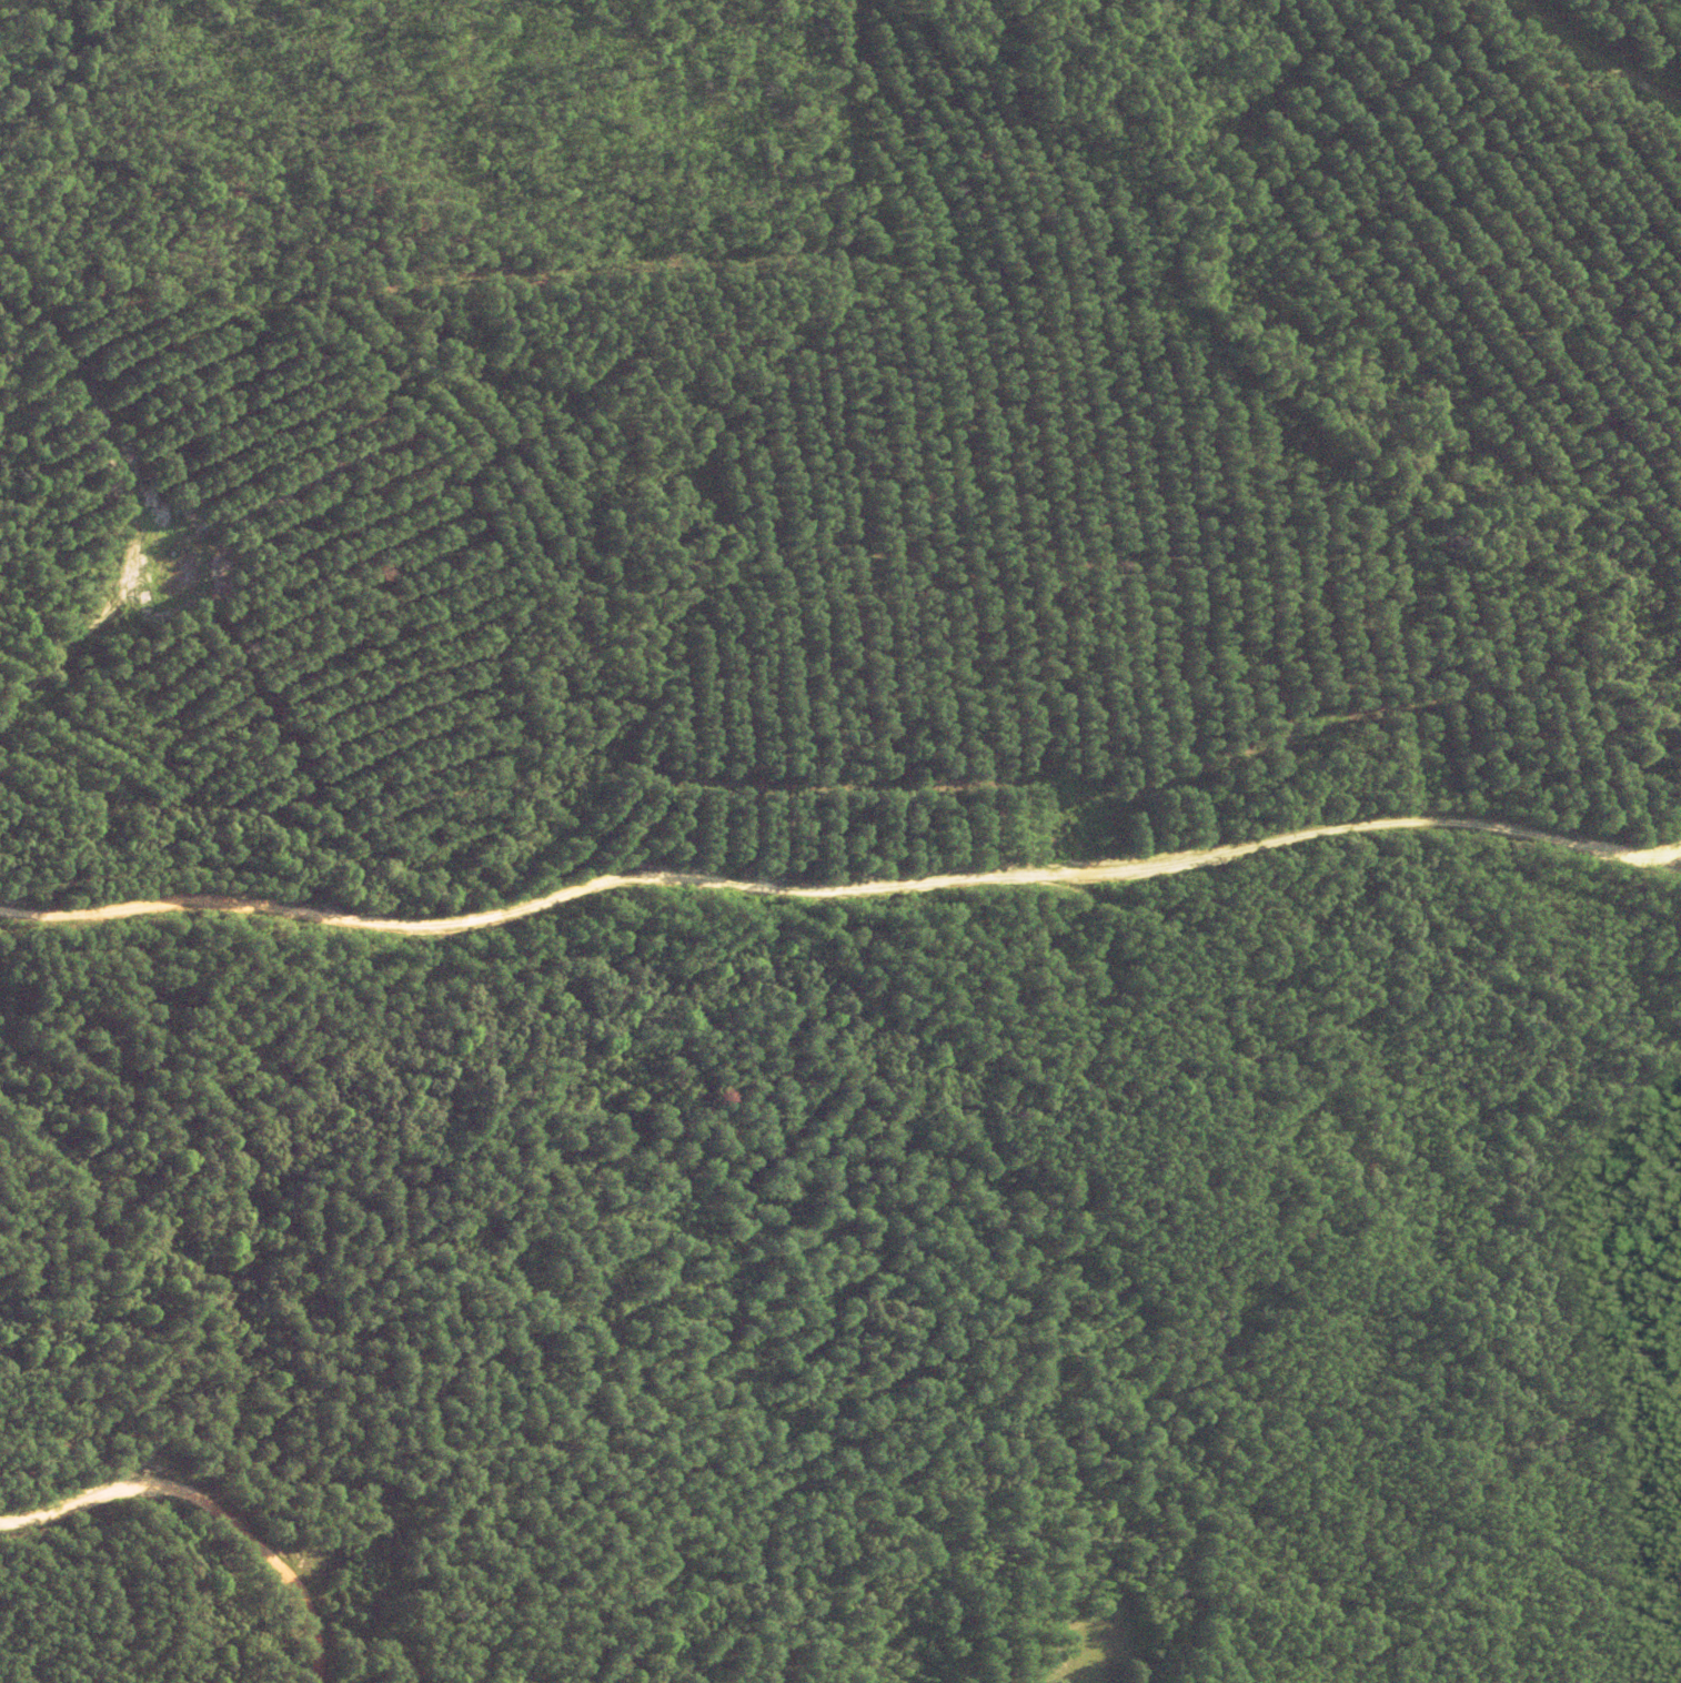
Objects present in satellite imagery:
road: (839, 894)
road: (204, 1513)

